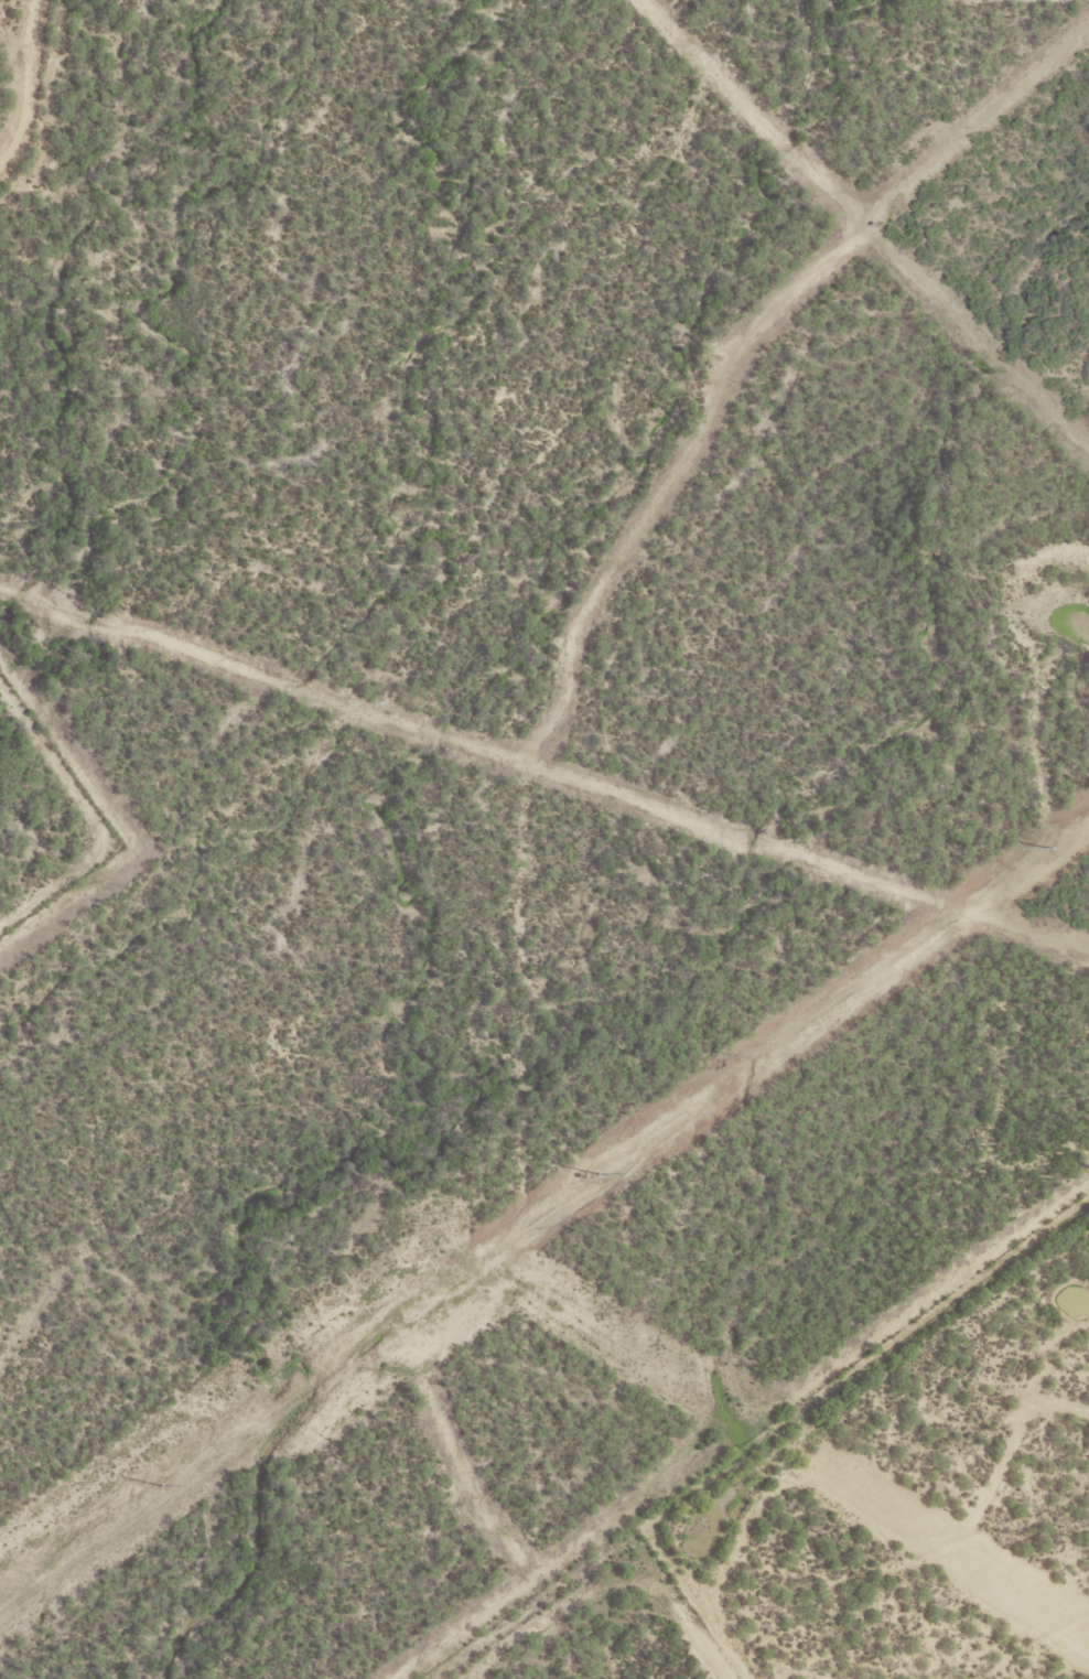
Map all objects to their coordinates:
power tower: (1054, 849)
power tower: (600, 1174)
power tower: (162, 1486)

